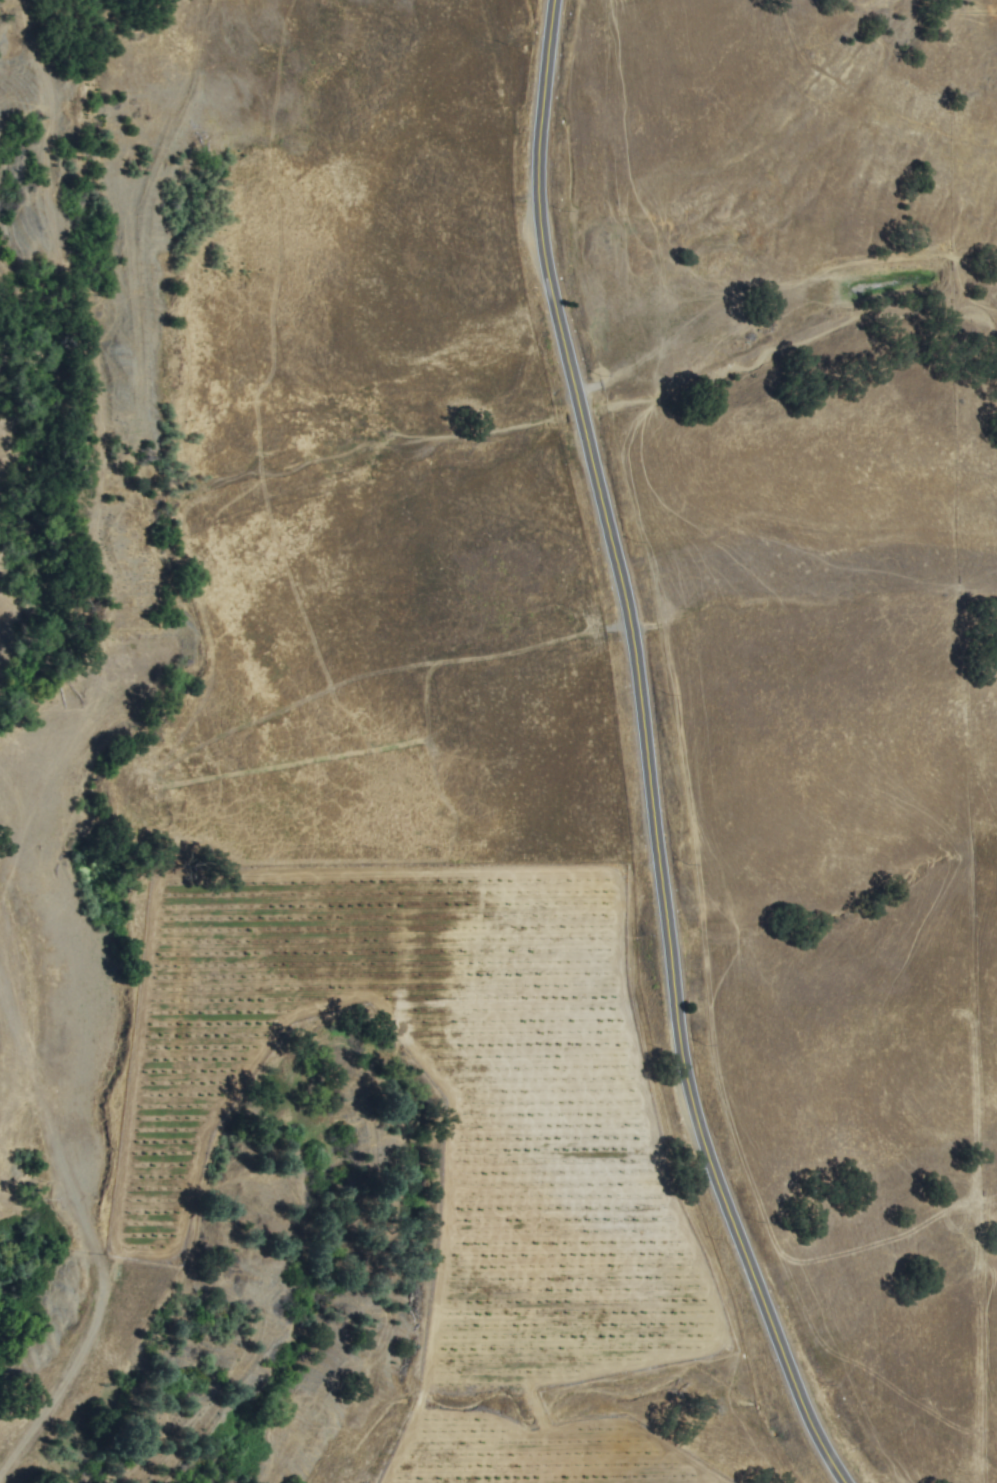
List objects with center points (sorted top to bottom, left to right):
road: (647, 752)
crop: (405, 1202)

